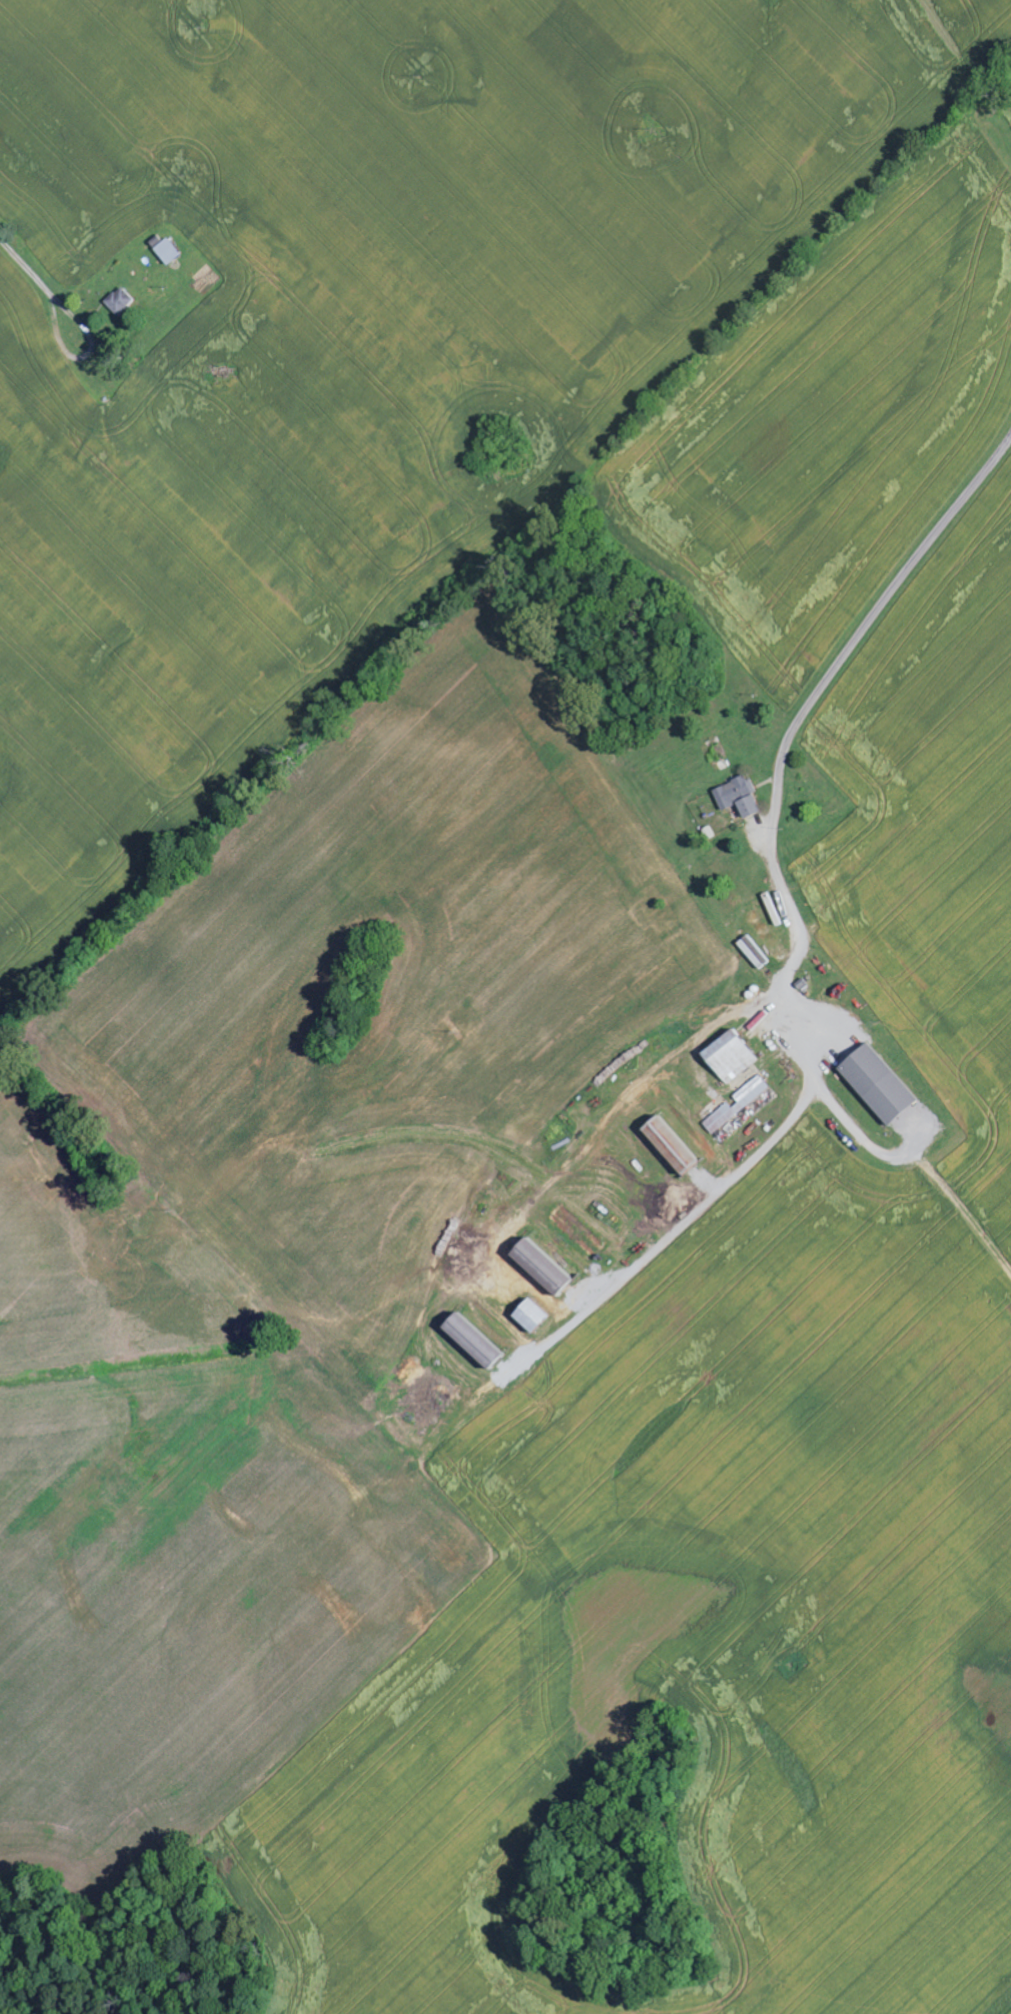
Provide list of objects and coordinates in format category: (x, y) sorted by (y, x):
building: (168, 252)
road: (32, 268)
building: (121, 302)
road: (851, 645)
building: (739, 798)
building: (755, 953)
building: (732, 1058)
building: (879, 1086)
building: (738, 1105)
building: (543, 1269)
building: (533, 1318)

